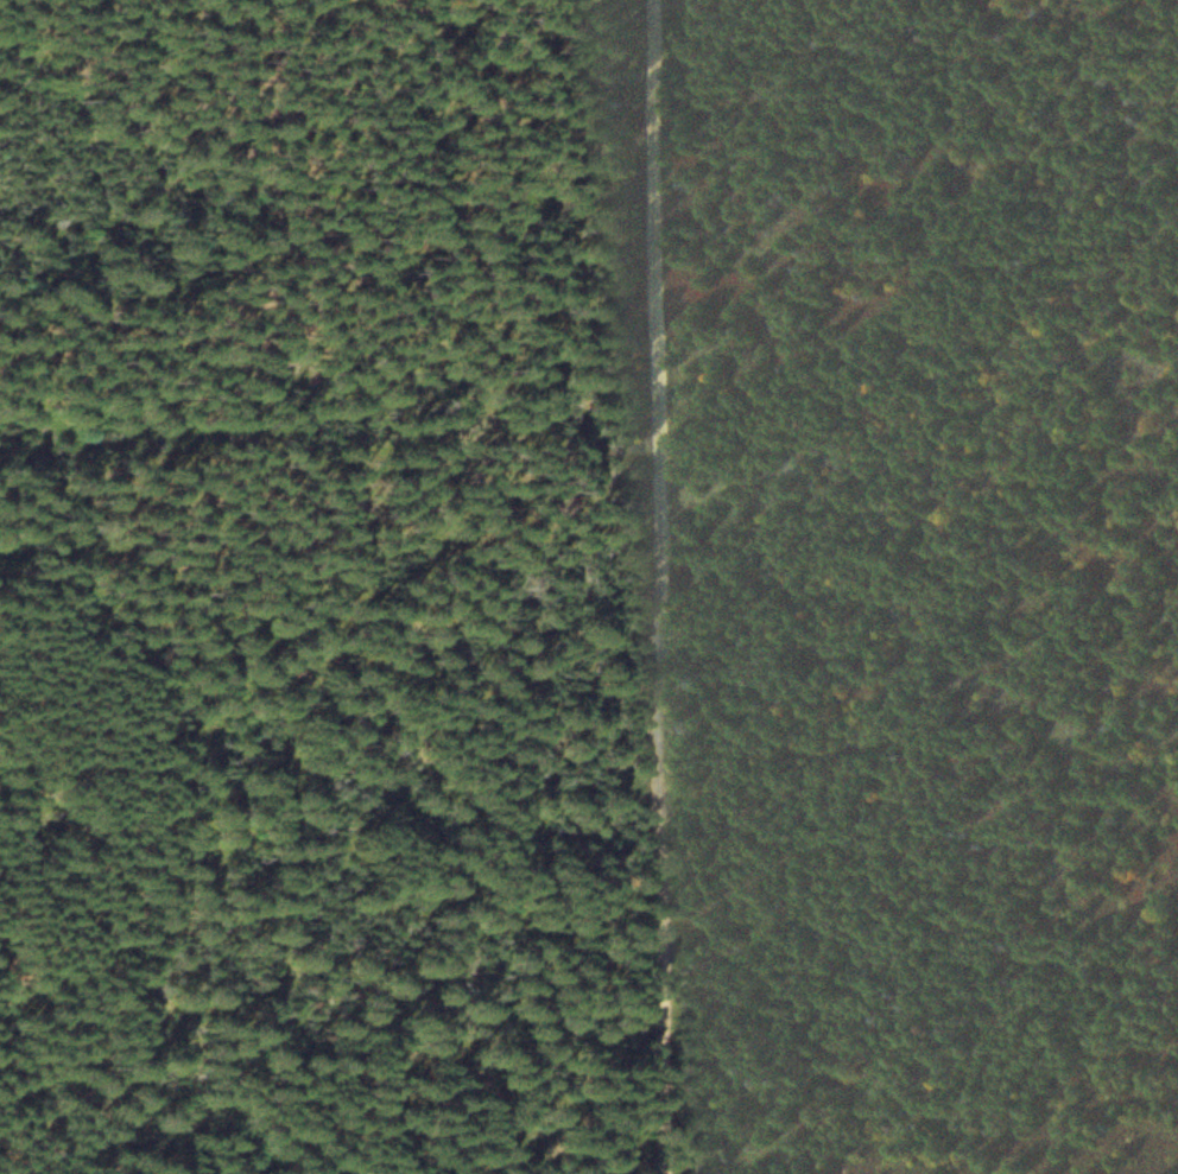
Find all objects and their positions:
road: (663, 586)

